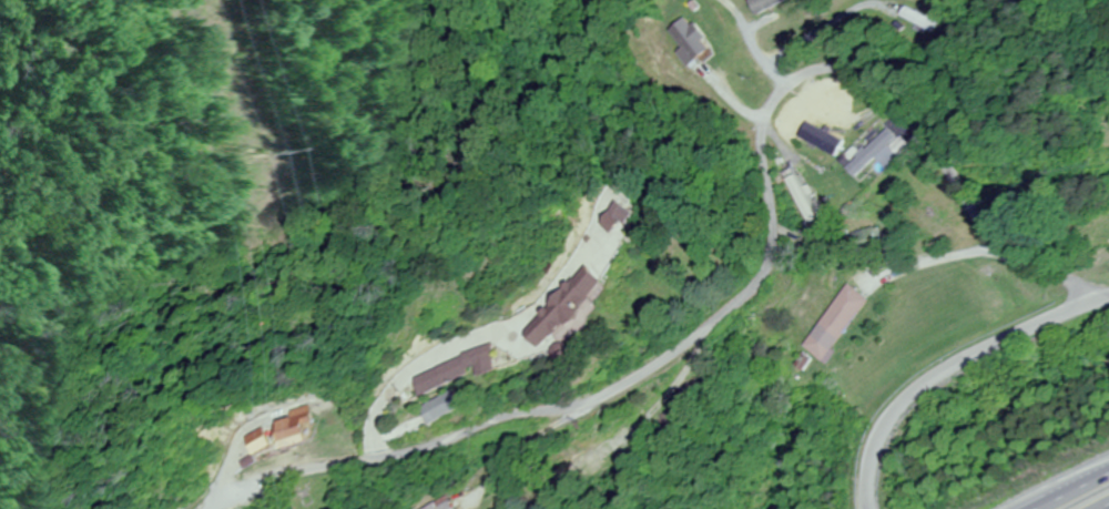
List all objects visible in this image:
building: (779, 19)
building: (920, 20)
building: (688, 38)
road: (753, 51)
building: (835, 101)
building: (823, 139)
building: (877, 152)
road: (766, 231)
road: (930, 263)
building: (589, 286)
building: (835, 322)
building: (456, 369)
road: (954, 370)
building: (445, 405)
building: (291, 428)
building: (255, 438)
road: (1069, 490)
building: (430, 506)

